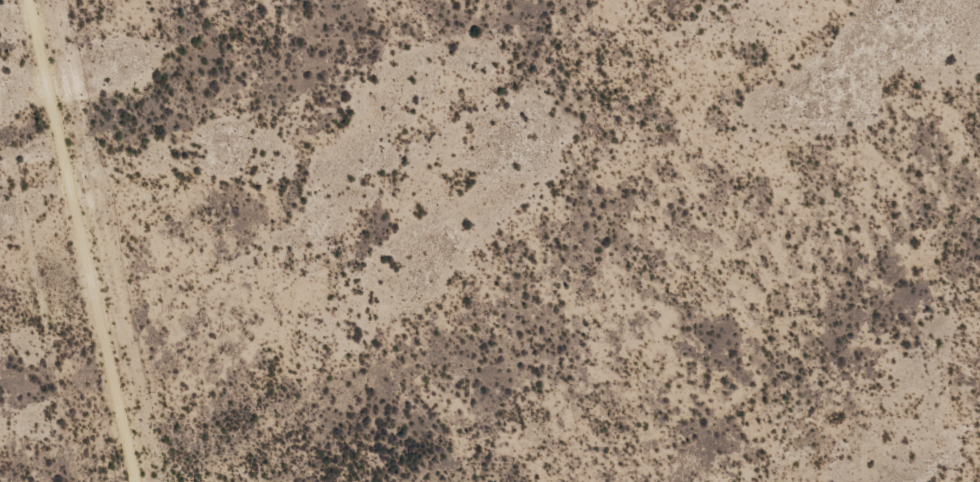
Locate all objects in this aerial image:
road: (32, 307)

